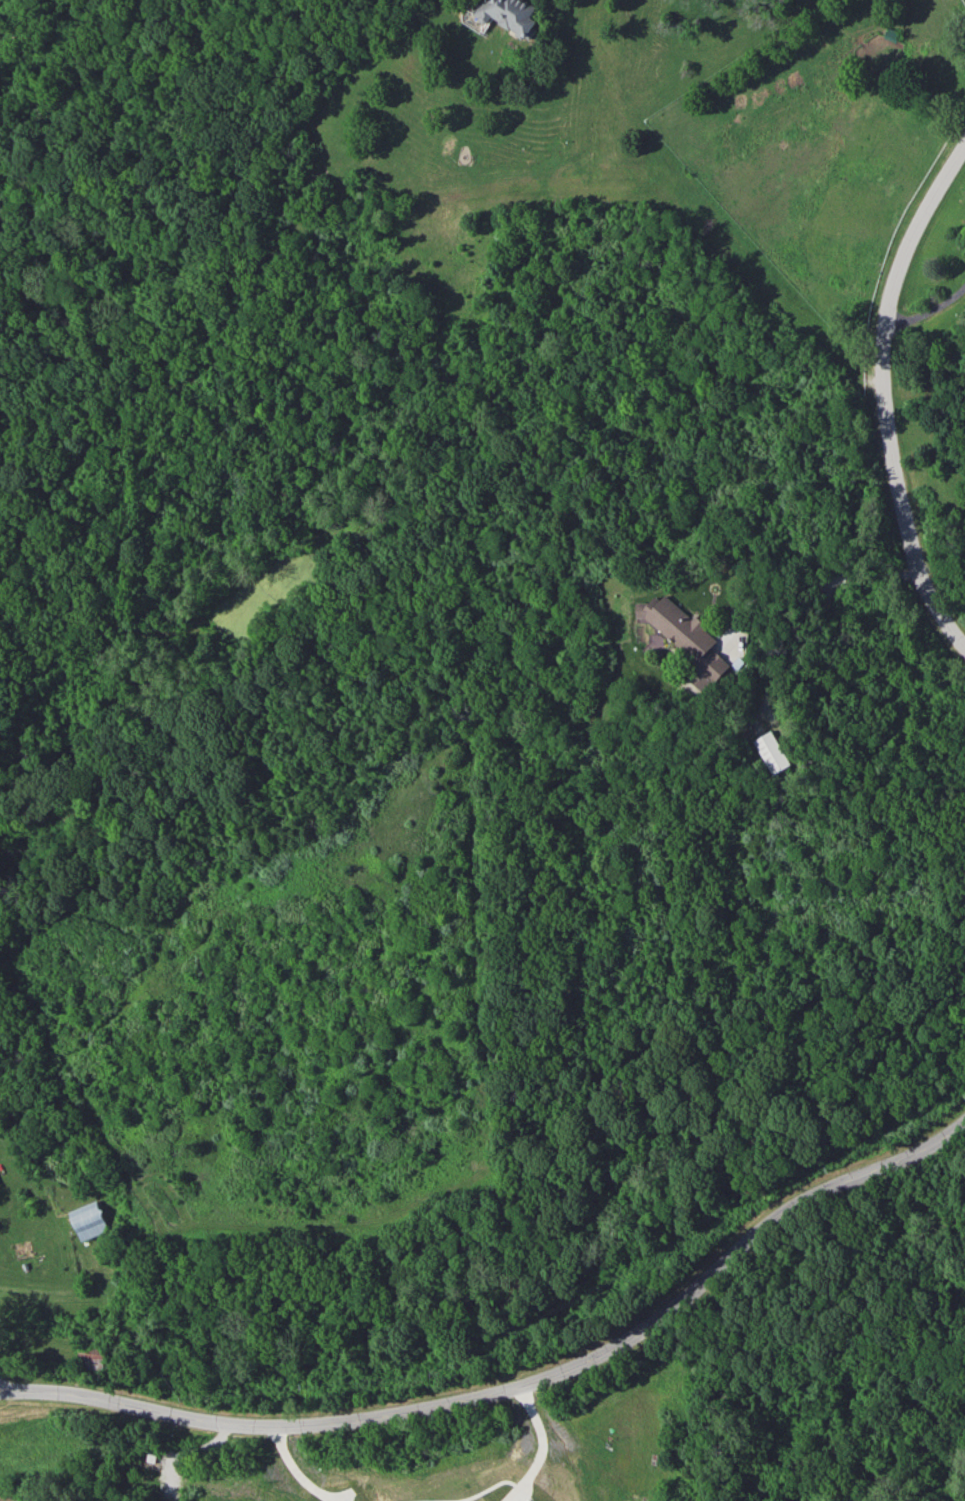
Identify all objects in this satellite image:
building: (502, 15)
road: (932, 312)
road: (886, 394)
road: (836, 579)
building: (686, 639)
building: (770, 752)
building: (87, 1220)
building: (94, 1354)
road: (518, 1388)
road: (0, 1389)
road: (540, 1445)
road: (188, 1451)
building: (151, 1457)
road: (296, 1469)
road: (469, 1496)

